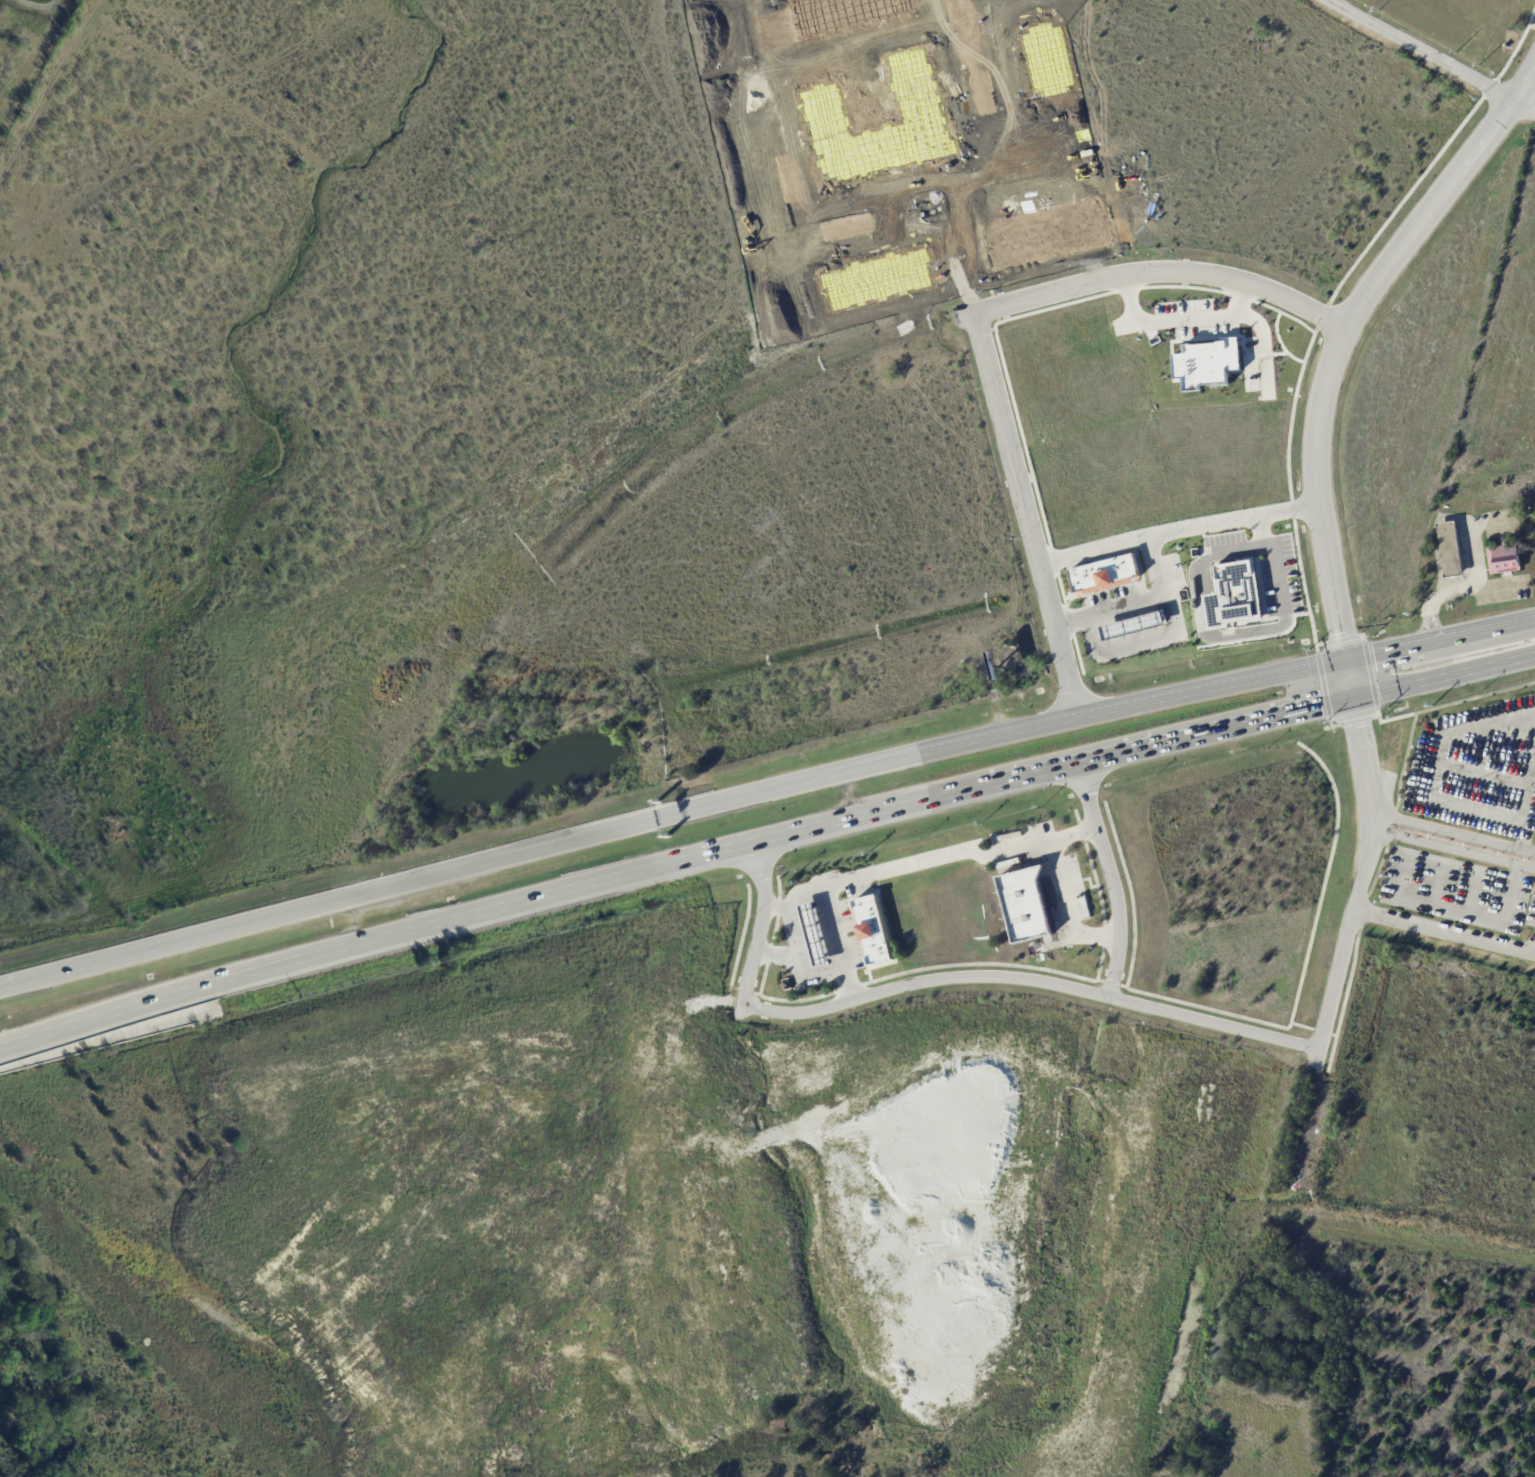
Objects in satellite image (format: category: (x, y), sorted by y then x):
road: (1420, 48)
road: (1152, 269)
road: (1180, 323)
road: (1340, 331)
road: (1266, 349)
building: (1214, 370)
road: (1024, 512)
road: (1176, 529)
building: (1448, 548)
building: (1503, 557)
building: (1109, 579)
road: (1463, 586)
road: (1133, 603)
building: (1241, 603)
building: (1131, 625)
building: (1138, 631)
road: (1441, 635)
road: (1229, 642)
traffic signals: (1347, 655)
road: (1445, 675)
road: (1351, 676)
road: (1212, 684)
traffic signals: (1356, 697)
road: (1217, 728)
road: (1493, 740)
road: (1429, 763)
road: (1529, 790)
parking lot: (1470, 838)
road: (1455, 843)
road: (538, 846)
road: (722, 849)
road: (928, 860)
road: (1110, 877)
road: (1362, 881)
road: (1442, 881)
road: (1477, 890)
road: (1066, 910)
building: (1030, 911)
road: (1464, 911)
road: (759, 923)
road: (1445, 931)
building: (879, 937)
building: (820, 940)
gas station: (820, 940)
road: (837, 942)
road: (774, 957)
road: (797, 962)
road: (1030, 980)
road: (183, 991)
road: (1426, 1235)
building: (1343, 1265)

